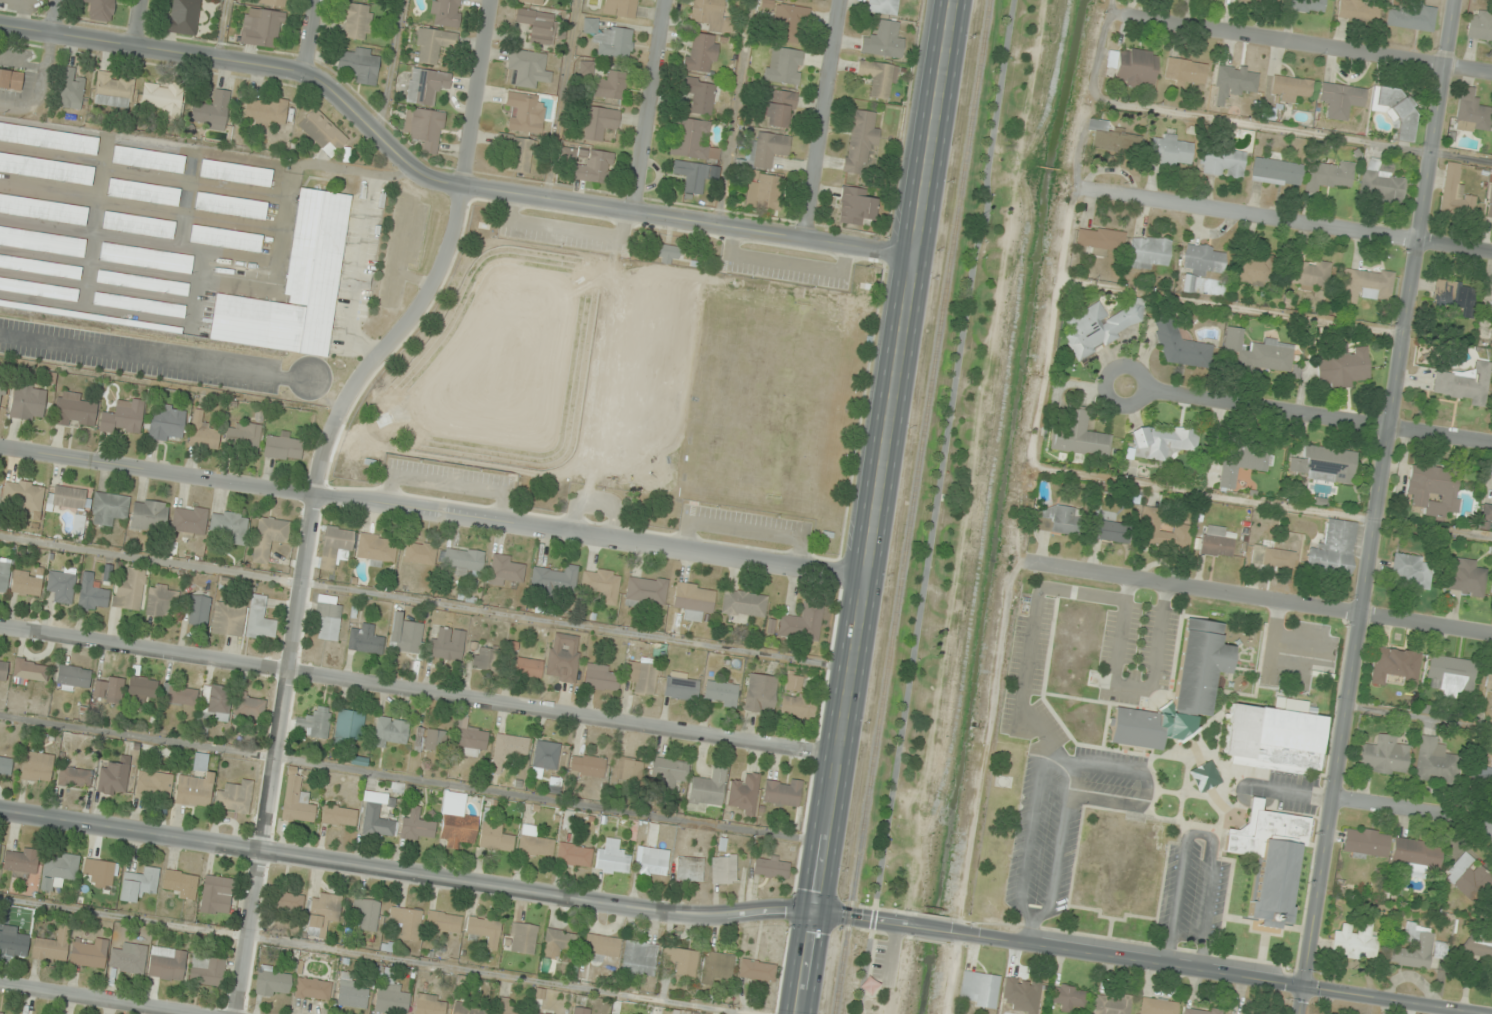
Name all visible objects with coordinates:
building: (1264, 0)
building: (535, 1)
building: (273, 2)
building: (1308, 5)
building: (883, 6)
building: (620, 8)
building: (100, 9)
building: (1358, 10)
building: (445, 12)
building: (712, 15)
building: (183, 17)
building: (1411, 17)
road: (52, 18)
building: (355, 21)
building: (790, 22)
road: (137, 23)
building: (539, 25)
building: (1479, 25)
building: (262, 28)
road: (221, 29)
road: (310, 35)
building: (610, 39)
building: (883, 40)
building: (432, 45)
road: (1308, 45)
building: (701, 52)
building: (360, 64)
building: (783, 65)
road: (389, 67)
building: (1136, 67)
building: (528, 68)
building: (587, 68)
building: (1185, 70)
building: (878, 78)
building: (11, 79)
building: (1238, 80)
building: (426, 85)
building: (610, 85)
road: (40, 87)
building: (1290, 88)
building: (70, 89)
building: (114, 90)
building: (699, 94)
building: (164, 97)
building: (1341, 99)
road: (560, 100)
road: (649, 106)
building: (779, 108)
building: (1397, 109)
building: (212, 111)
building: (525, 111)
building: (267, 112)
road: (734, 112)
building: (1472, 112)
road: (822, 119)
building: (599, 122)
building: (424, 128)
building: (322, 131)
building: (48, 138)
building: (1113, 138)
building: (692, 139)
building: (860, 140)
building: (766, 149)
building: (1171, 149)
building: (518, 152)
building: (148, 159)
building: (1222, 161)
building: (593, 166)
building: (46, 168)
building: (1275, 171)
building: (236, 172)
building: (1328, 174)
building: (693, 176)
road: (437, 182)
building: (1381, 182)
building: (143, 192)
building: (766, 192)
building: (1455, 192)
building: (1490, 203)
building: (231, 205)
building: (855, 206)
building: (43, 208)
road: (1286, 221)
building: (138, 225)
road: (562, 230)
parking lot: (563, 233)
building: (226, 238)
building: (43, 240)
building: (1100, 240)
building: (665, 250)
building: (1148, 252)
building: (146, 257)
building: (1201, 262)
road: (783, 263)
building: (40, 266)
parking lot: (784, 267)
building: (1256, 271)
building: (1310, 274)
building: (1370, 280)
building: (142, 282)
building: (295, 285)
building: (39, 288)
building: (1455, 296)
building: (139, 304)
building: (1491, 310)
building: (1100, 326)
building: (1181, 347)
building: (1260, 352)
parking lot: (139, 355)
road: (152, 357)
park: (516, 358)
building: (1345, 369)
park: (650, 377)
park: (629, 382)
road: (1104, 383)
building: (1463, 384)
building: (2, 393)
park: (786, 399)
building: (27, 401)
building: (74, 410)
building: (123, 416)
road: (1321, 417)
building: (166, 422)
building: (203, 432)
building: (243, 436)
building: (1080, 436)
building: (1164, 442)
building: (283, 448)
building: (1242, 462)
building: (1325, 464)
parking lot: (448, 479)
road: (446, 482)
road: (314, 489)
building: (1434, 489)
building: (24, 495)
building: (66, 498)
road: (597, 502)
road: (876, 506)
road: (934, 506)
road: (1377, 506)
railway: (912, 507)
building: (108, 508)
road: (432, 514)
building: (148, 515)
building: (1485, 516)
building: (1055, 519)
building: (189, 521)
parking lot: (744, 525)
building: (228, 526)
road: (744, 527)
building: (1109, 528)
building: (1163, 533)
building: (269, 538)
building: (1215, 542)
building: (336, 547)
building: (376, 549)
building: (1334, 550)
building: (420, 552)
building: (1272, 557)
building: (463, 561)
building: (504, 570)
building: (1412, 570)
building: (4, 576)
building: (1466, 578)
building: (556, 581)
building: (26, 583)
building: (602, 584)
building: (61, 586)
building: (129, 590)
building: (644, 591)
building: (92, 594)
building: (161, 600)
building: (694, 600)
road: (1261, 600)
road: (426, 601)
building: (744, 603)
building: (196, 610)
building: (328, 617)
building: (260, 618)
building: (228, 619)
building: (802, 623)
building: (405, 635)
building: (365, 640)
building: (448, 644)
building: (563, 657)
building: (485, 658)
building: (1394, 665)
building: (3, 666)
building: (528, 667)
building: (30, 671)
building: (641, 675)
building: (1450, 675)
building: (602, 677)
building: (73, 678)
building: (794, 682)
building: (1488, 683)
building: (108, 688)
building: (142, 688)
building: (681, 688)
building: (1179, 690)
road: (420, 692)
building: (721, 693)
building: (760, 693)
building: (179, 694)
building: (214, 703)
building: (798, 707)
building: (249, 708)
building: (313, 723)
building: (349, 725)
building: (390, 731)
building: (470, 738)
building: (1274, 739)
building: (430, 740)
building: (508, 750)
building: (546, 755)
building: (1384, 755)
building: (1436, 762)
building: (5, 766)
building: (587, 766)
building: (37, 767)
building: (626, 770)
building: (668, 773)
building: (1483, 774)
building: (74, 777)
building: (113, 778)
road: (413, 778)
building: (195, 784)
building: (153, 785)
building: (707, 789)
building: (782, 791)
building: (744, 793)
building: (234, 797)
building: (296, 799)
road: (1414, 811)
building: (339, 816)
building: (376, 816)
building: (456, 822)
building: (417, 826)
building: (495, 836)
building: (534, 842)
building: (1366, 842)
building: (0, 844)
building: (1416, 854)
building: (574, 855)
building: (612, 857)
building: (1270, 861)
building: (20, 862)
building: (650, 865)
building: (771, 866)
building: (689, 869)
building: (723, 869)
building: (59, 870)
building: (98, 870)
building: (1468, 877)
road: (454, 880)
building: (139, 884)
building: (180, 884)
building: (216, 895)
building: (287, 902)
traffic signals: (815, 911)
building: (367, 913)
building: (322, 914)
building: (405, 922)
building: (443, 922)
building: (484, 930)
road: (938, 930)
building: (522, 938)
building: (13, 941)
building: (1355, 942)
building: (559, 943)
building: (1479, 945)
building: (52, 946)
building: (600, 947)
building: (1414, 947)
building: (88, 952)
road: (371, 955)
building: (128, 959)
building: (639, 960)
building: (679, 961)
building: (167, 964)
building: (716, 967)
building: (757, 970)
building: (207, 971)
road: (1225, 974)
building: (273, 982)
building: (869, 985)
building: (313, 989)
building: (979, 990)
building: (351, 992)
building: (1023, 994)
building: (391, 995)
building: (1069, 997)
road: (91, 1000)
building: (430, 1004)
building: (1112, 1004)
building: (506, 1007)
building: (1158, 1007)
building: (469, 1009)
building: (581, 1010)
building: (1201, 1010)
building: (2, 1013)
building: (537, 1013)

